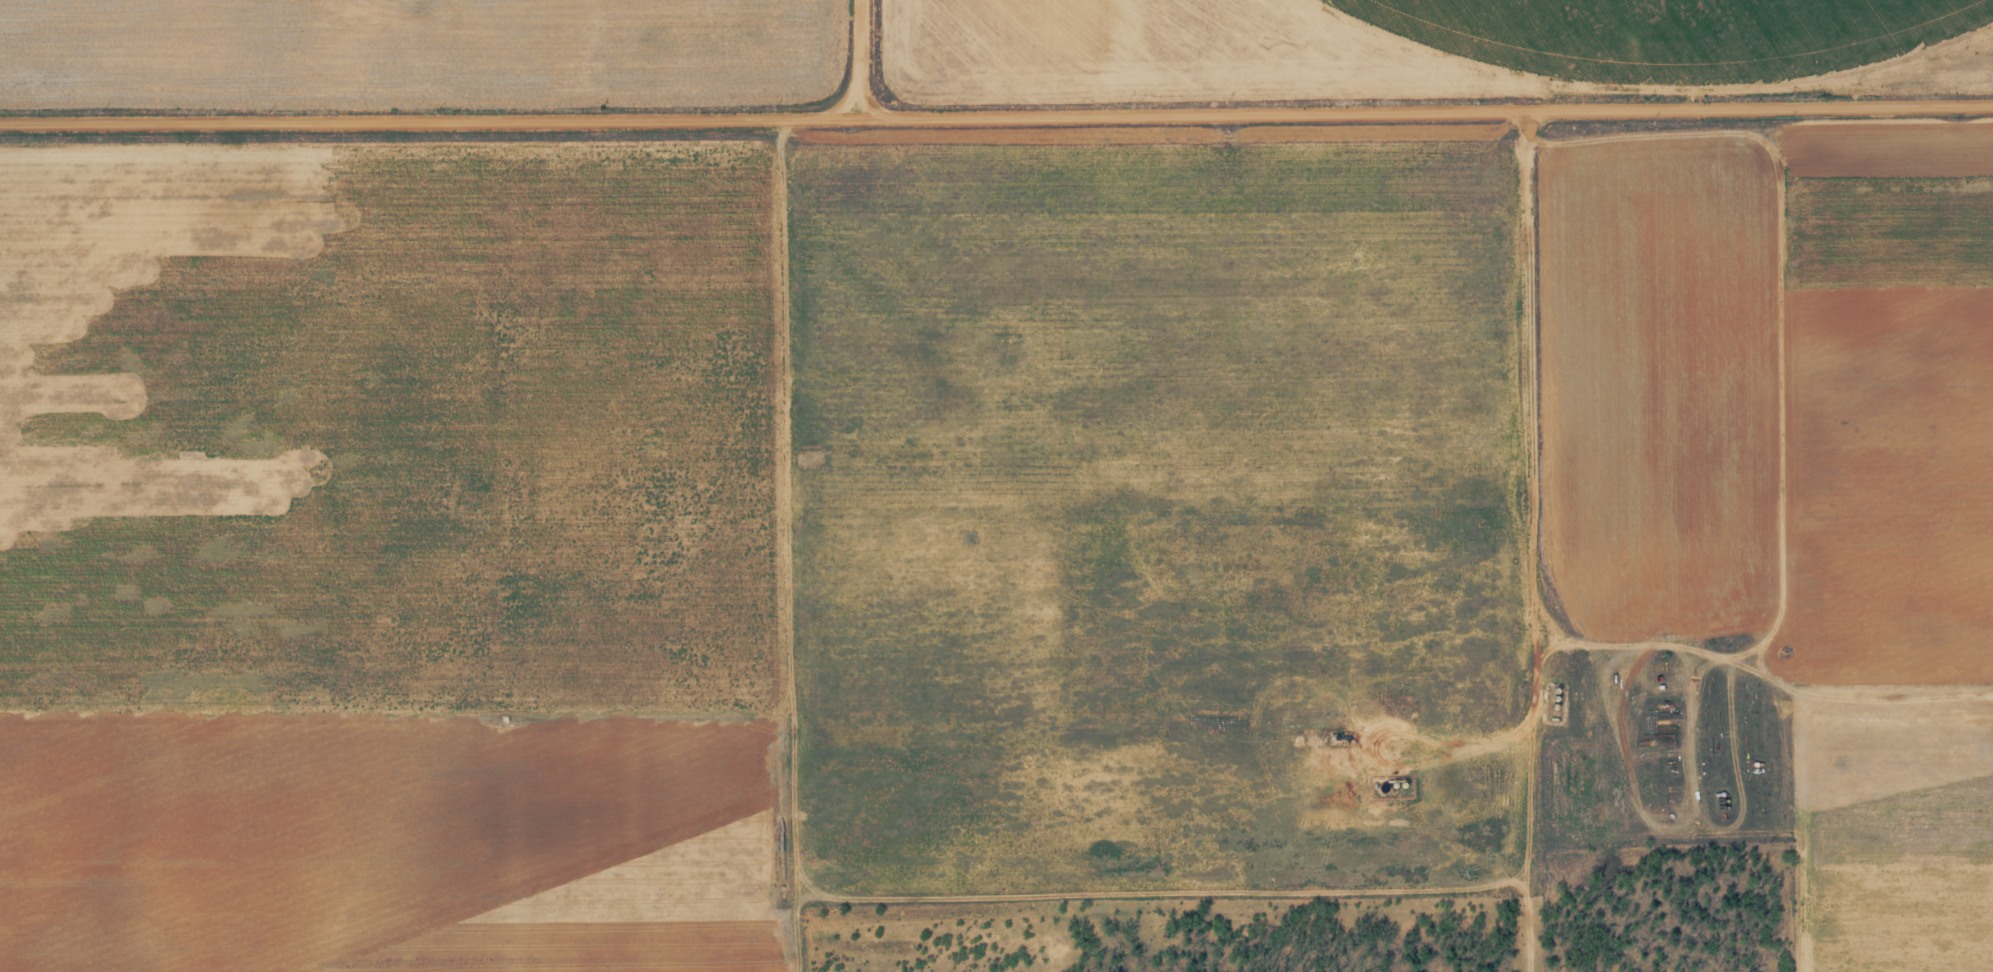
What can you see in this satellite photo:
road: (1666, 64)
road: (852, 67)
road: (996, 135)
road: (984, 472)
road: (1504, 555)
road: (1745, 676)
road: (793, 720)

